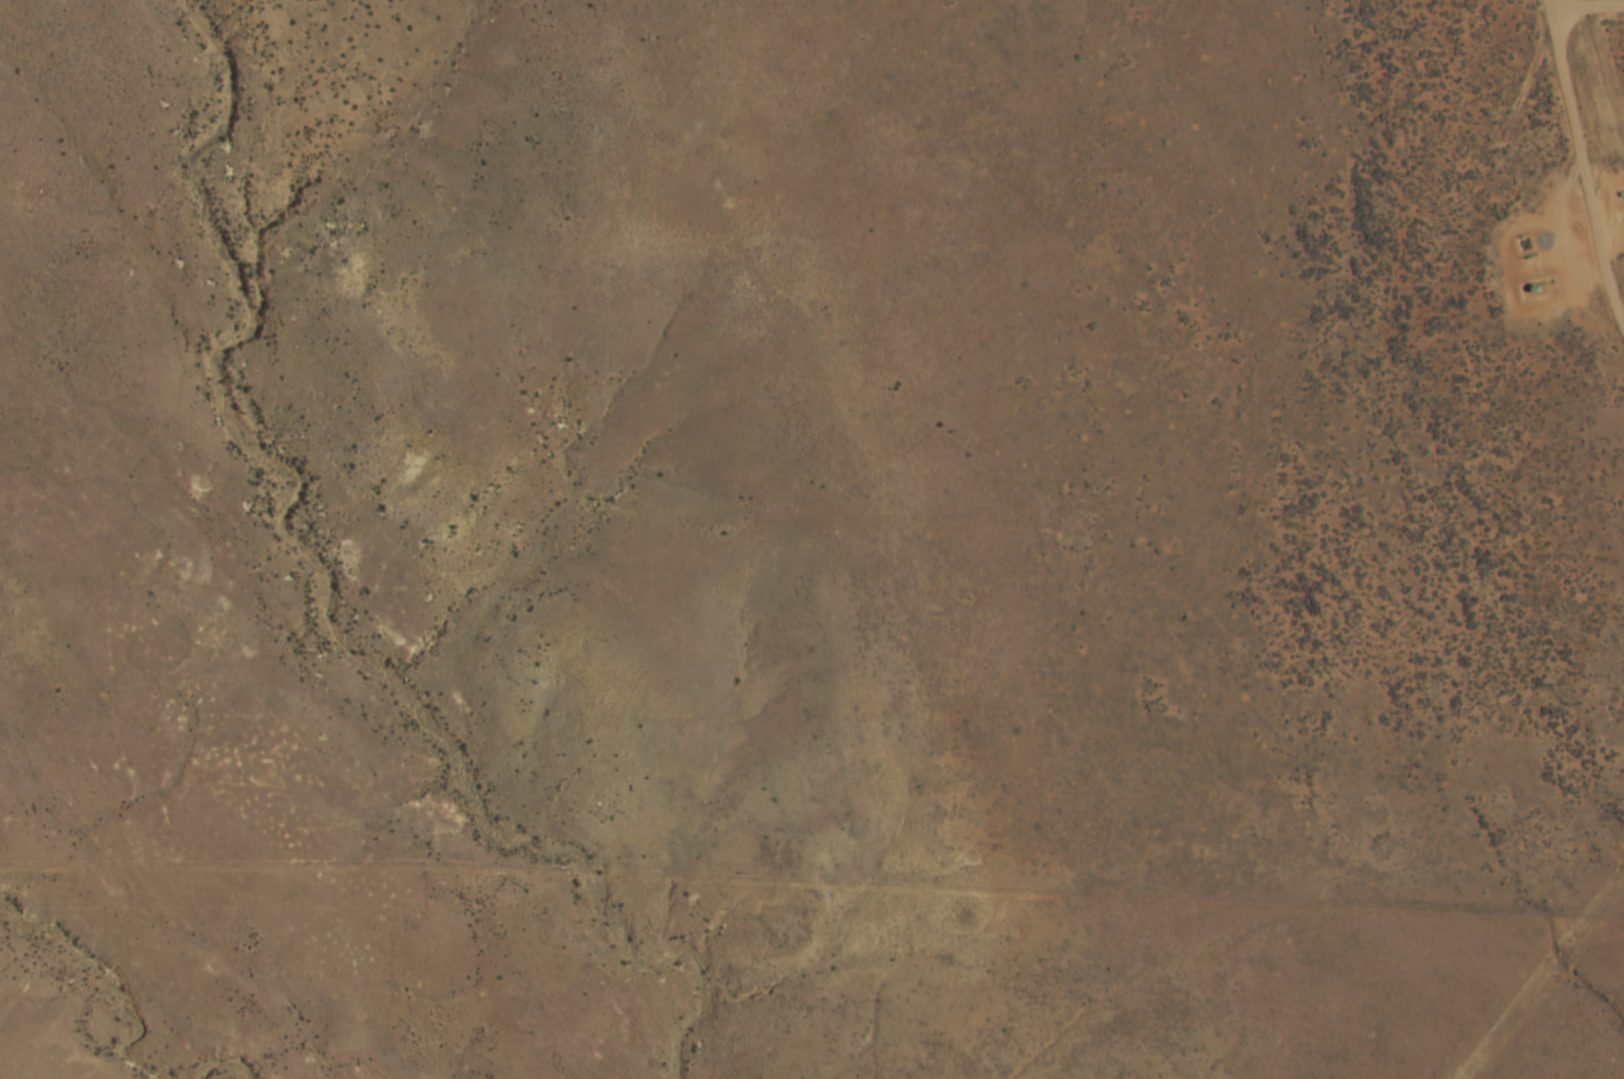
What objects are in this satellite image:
road: (1510, 228)
building: (1623, 574)

